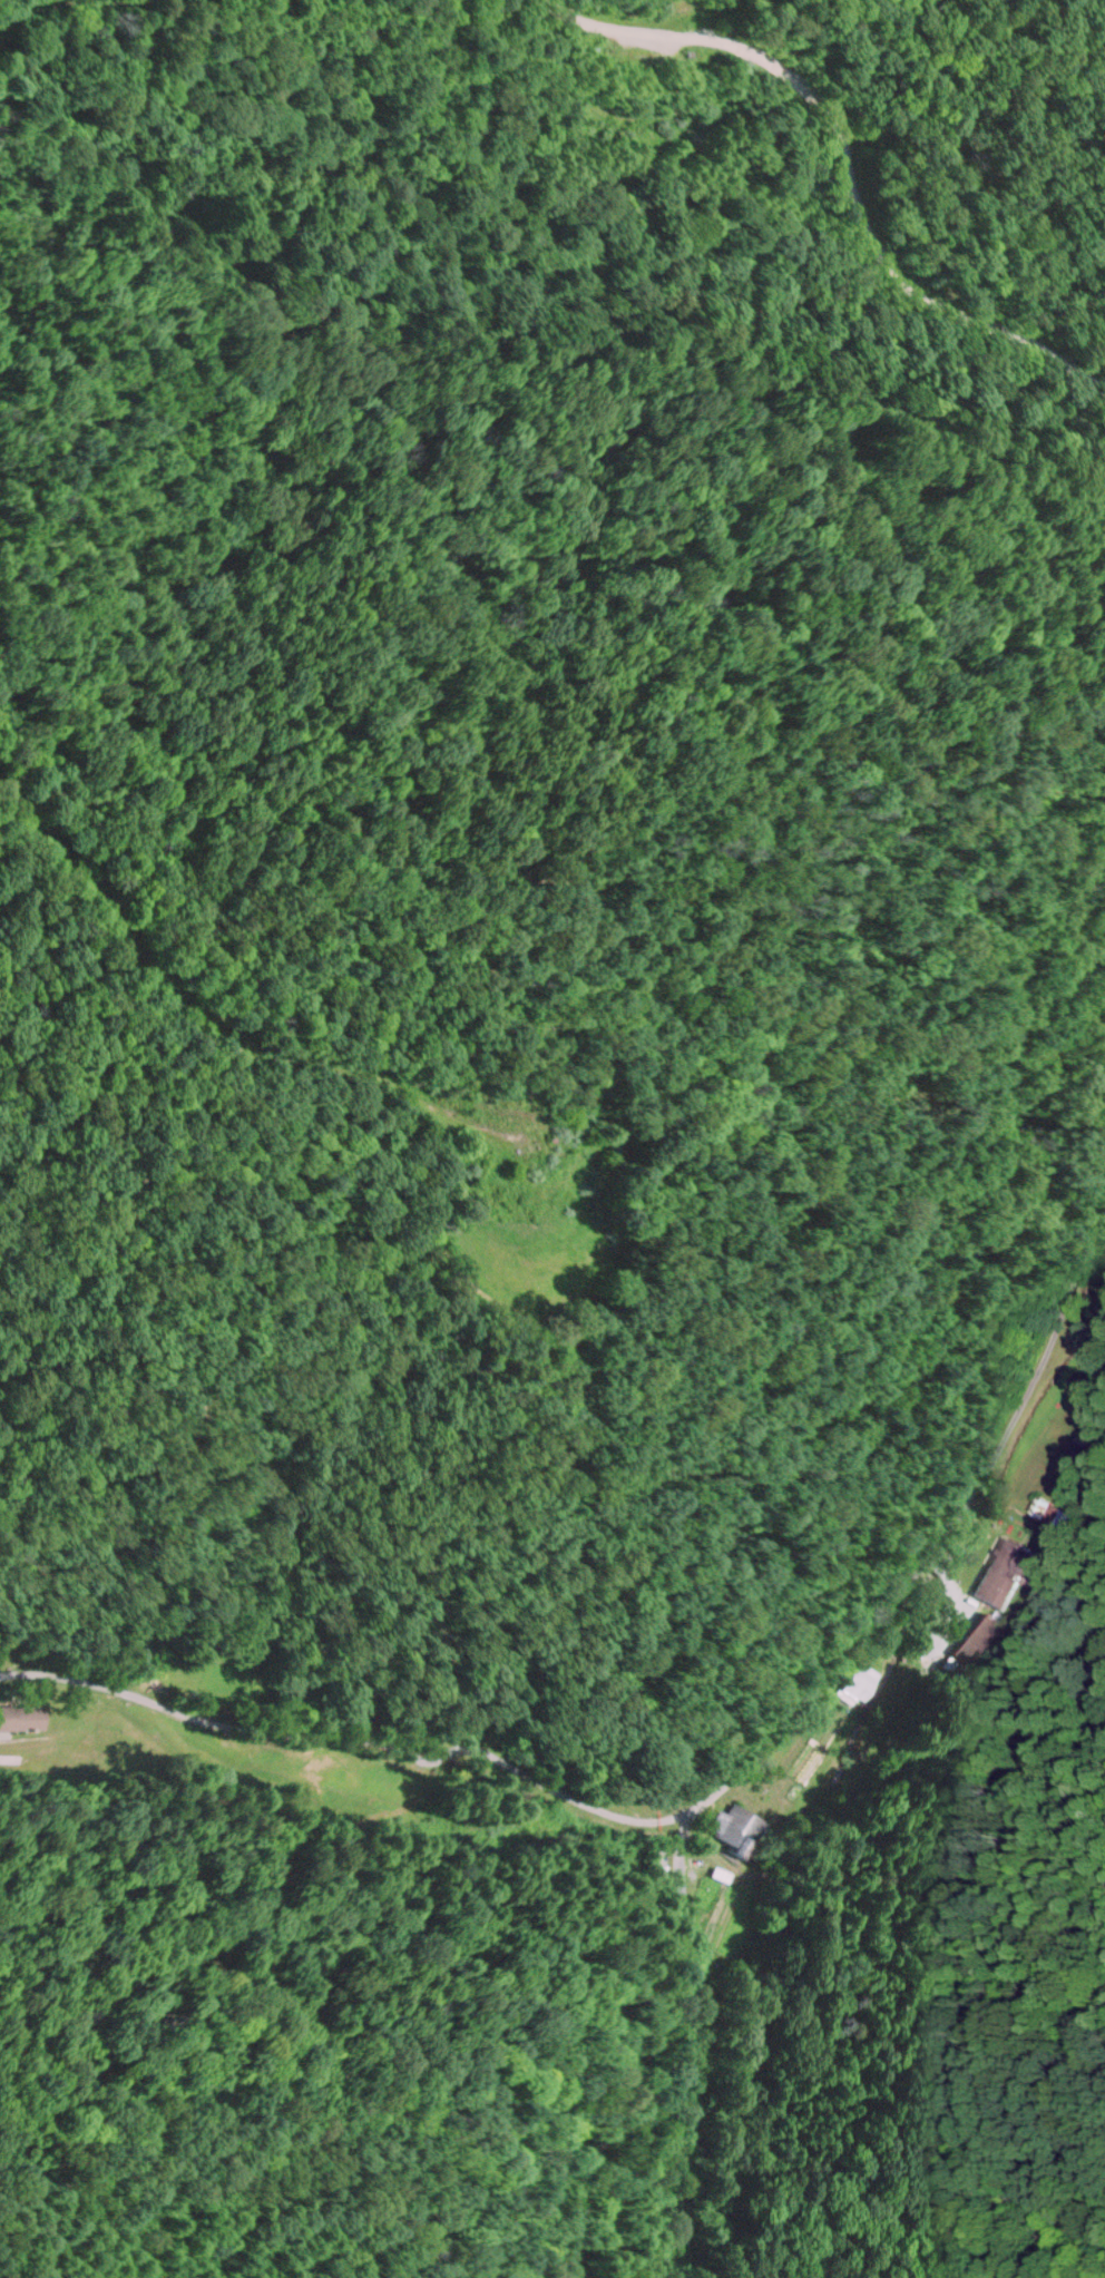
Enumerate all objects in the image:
building: (1037, 1508)
building: (1000, 1572)
building: (979, 1636)
road: (783, 1641)
building: (854, 1681)
building: (728, 1830)

